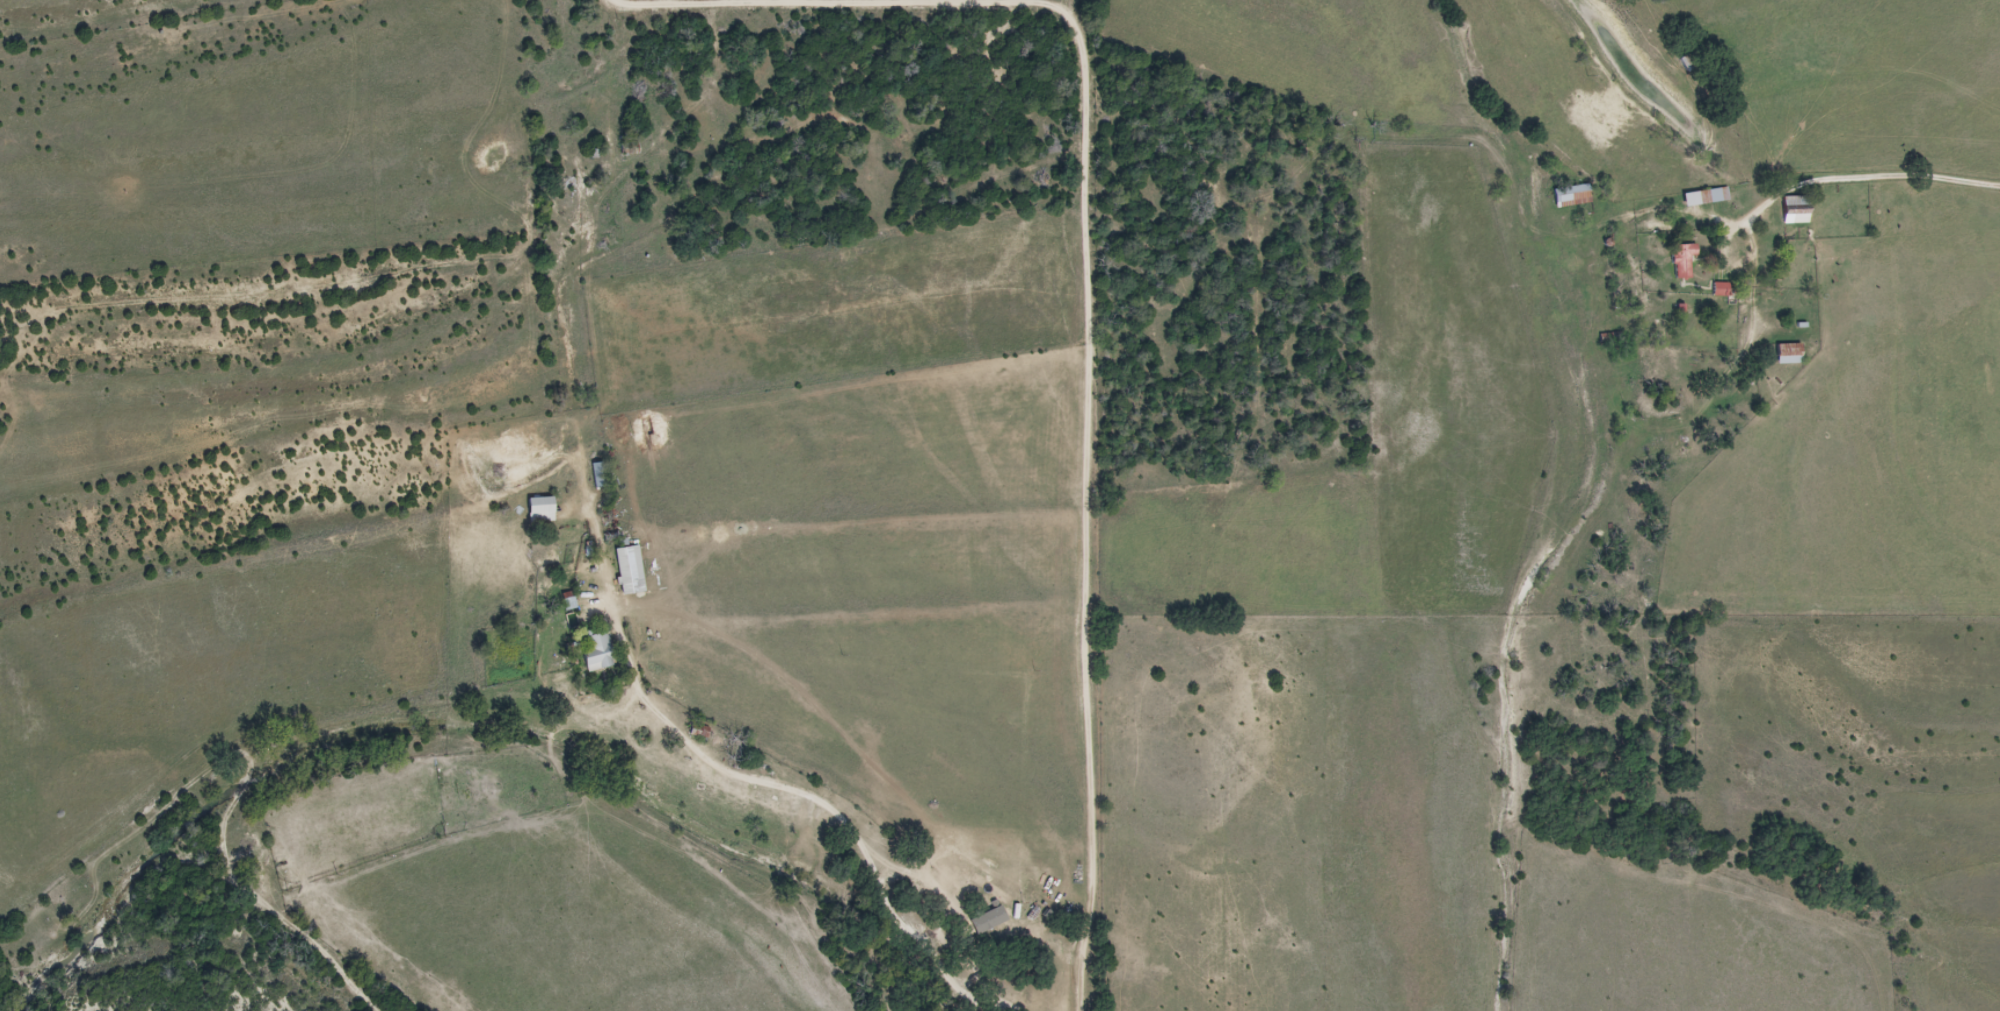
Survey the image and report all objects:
road: (1843, 175)
building: (1573, 197)
building: (1706, 198)
building: (1795, 211)
building: (1683, 261)
building: (1720, 290)
building: (1790, 355)
building: (599, 476)
building: (540, 511)
building: (609, 525)
building: (635, 563)
road: (456, 584)
building: (598, 653)
building: (992, 891)
road: (954, 985)

